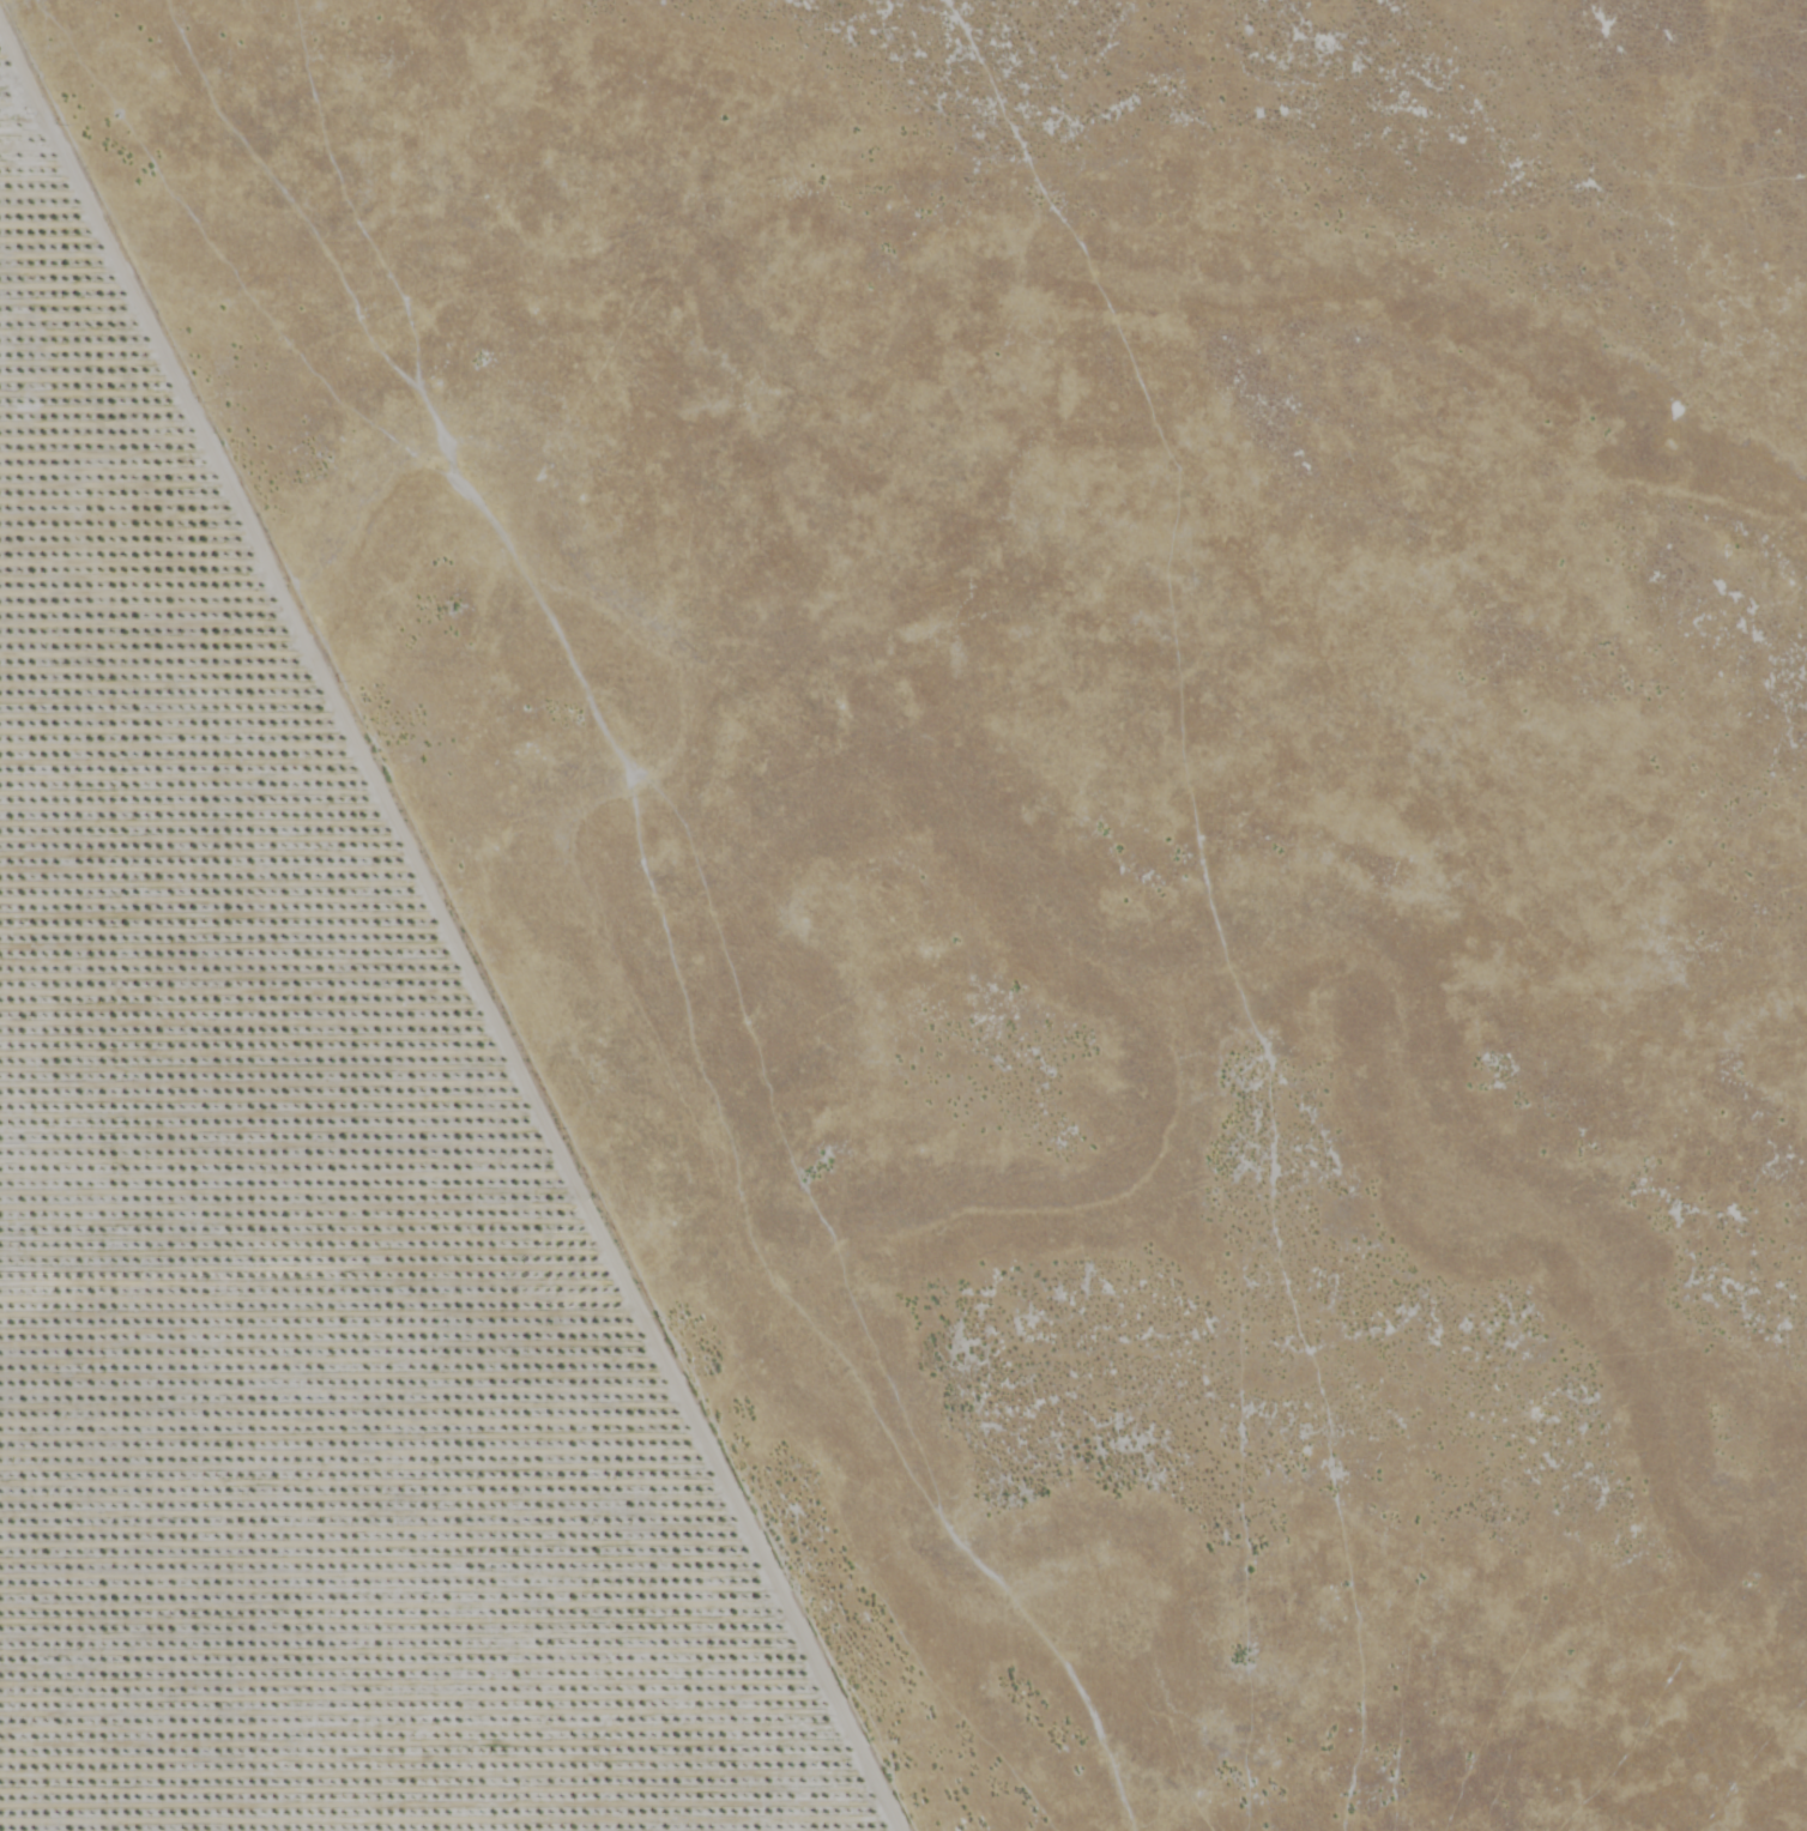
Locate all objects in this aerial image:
crop: (303, 1233)

